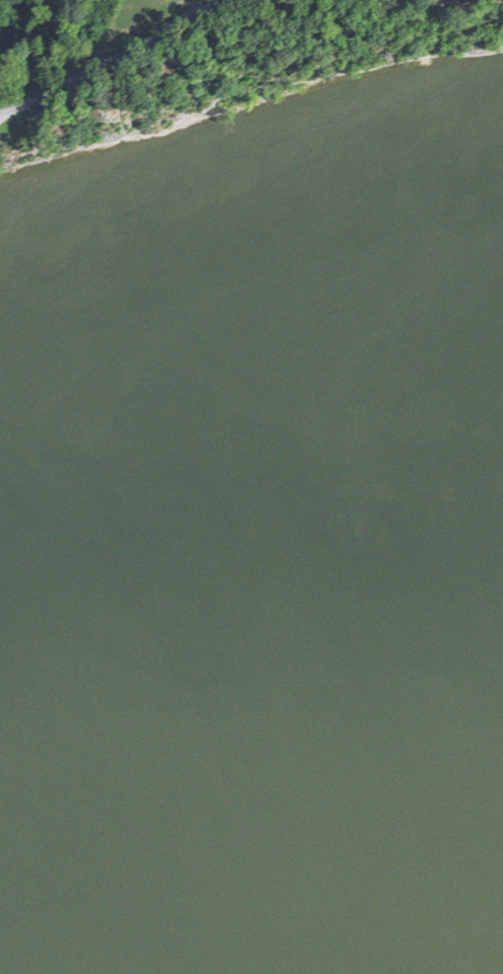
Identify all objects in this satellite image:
road: (112, 57)
river: (251, 750)

